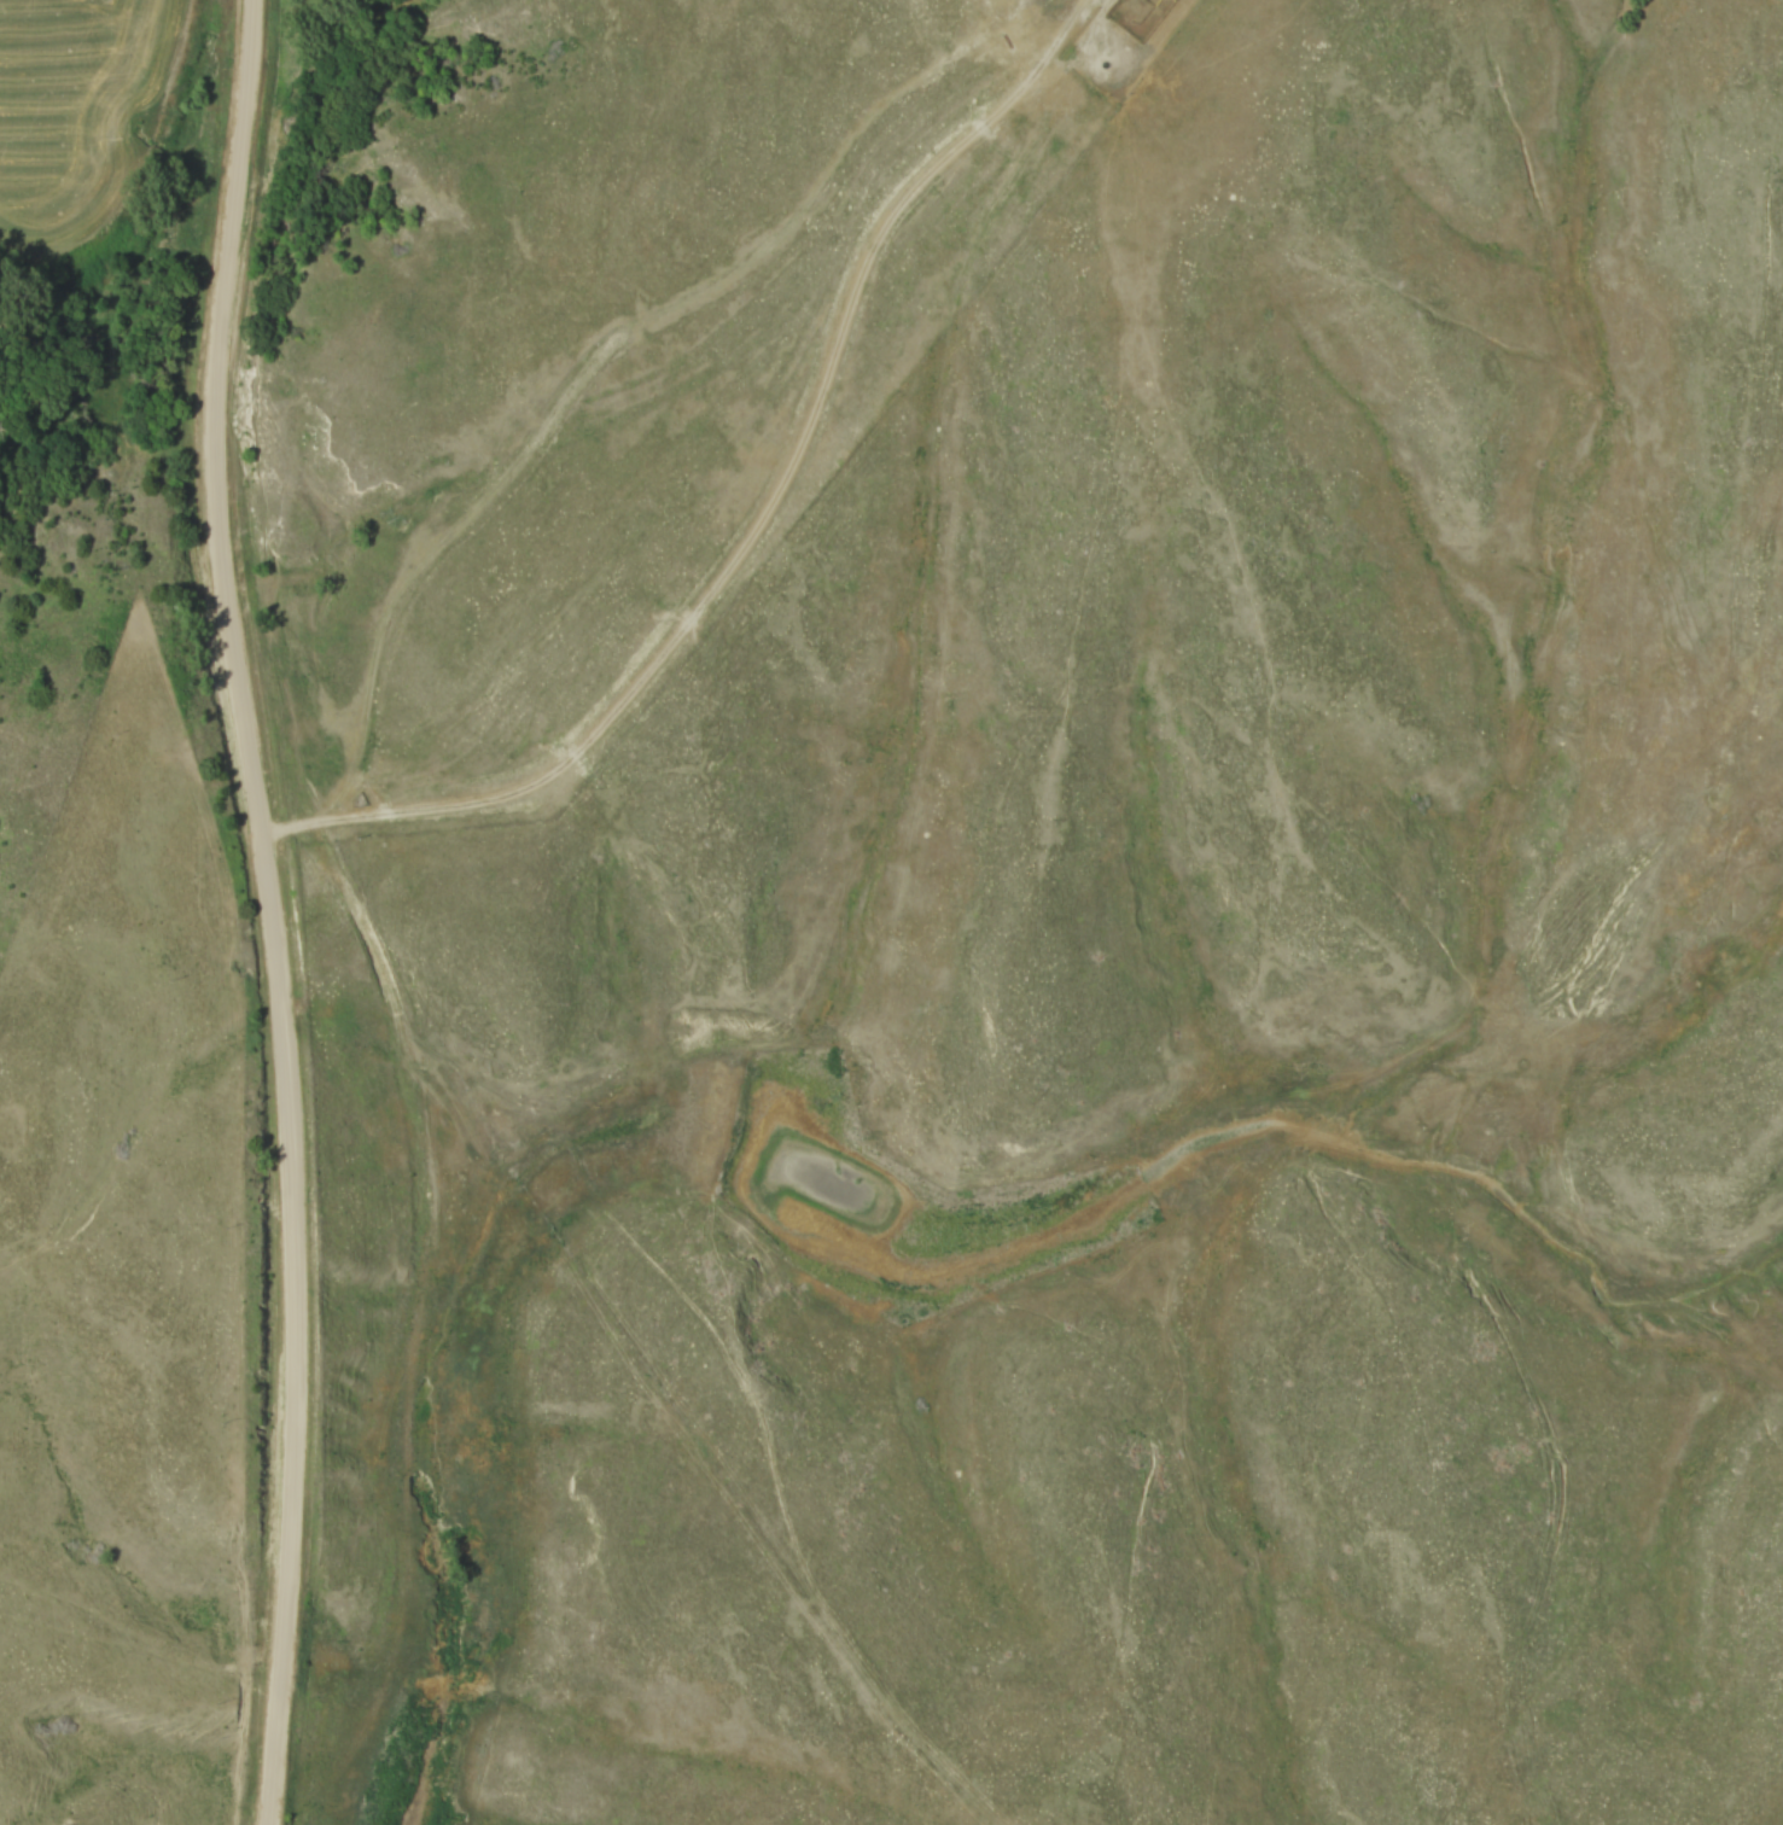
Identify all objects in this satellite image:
crop: (68, 101)
road: (272, 910)

